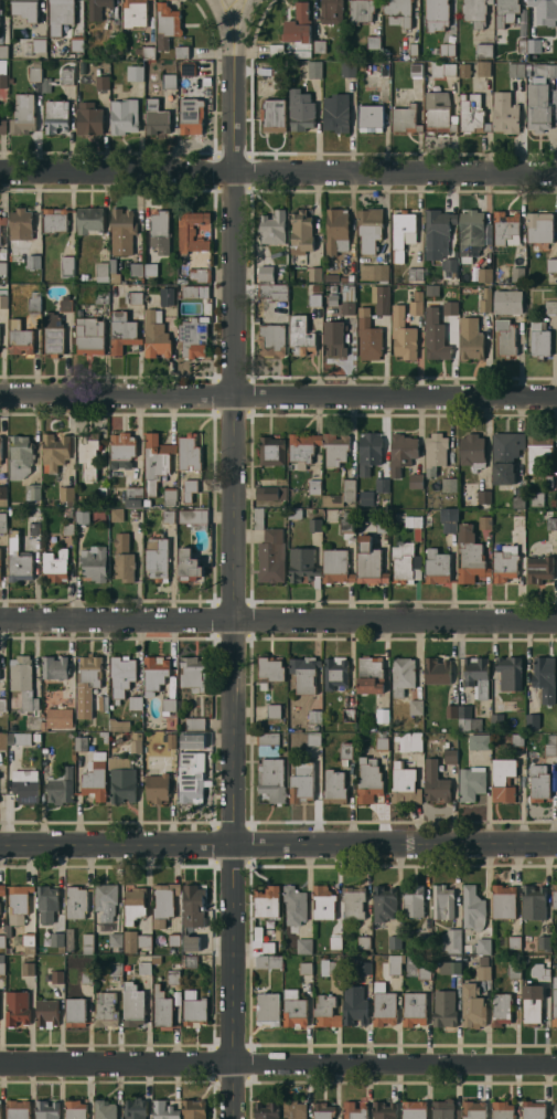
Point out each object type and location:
building: (97, 8)
building: (24, 9)
building: (360, 10)
building: (0, 11)
building: (331, 11)
building: (474, 11)
building: (545, 11)
building: (133, 12)
building: (397, 12)
building: (505, 12)
building: (436, 14)
building: (65, 22)
building: (165, 24)
road: (229, 25)
road: (237, 25)
building: (294, 34)
building: (114, 40)
building: (373, 42)
building: (39, 43)
building: (522, 45)
building: (534, 45)
building: (319, 46)
building: (447, 49)
building: (483, 50)
building: (3, 51)
building: (413, 51)
building: (148, 52)
building: (181, 52)
building: (384, 53)
building: (35, 62)
building: (186, 67)
building: (313, 68)
building: (347, 68)
building: (384, 68)
building: (441, 68)
building: (483, 68)
building: (545, 68)
building: (415, 70)
building: (463, 70)
building: (517, 70)
building: (135, 73)
building: (2, 74)
building: (34, 74)
building: (66, 75)
building: (169, 81)
building: (101, 82)
building: (46, 84)
building: (537, 107)
building: (300, 110)
building: (335, 113)
building: (438, 113)
building: (472, 114)
building: (22, 115)
building: (191, 115)
building: (272, 115)
building: (55, 116)
building: (124, 116)
building: (156, 117)
building: (369, 117)
building: (505, 117)
building: (88, 119)
building: (405, 119)
building: (2, 126)
road: (278, 167)
building: (54, 219)
building: (3, 220)
building: (88, 220)
building: (20, 223)
building: (159, 224)
building: (271, 228)
building: (368, 228)
building: (505, 228)
building: (538, 229)
building: (190, 230)
building: (122, 231)
building: (335, 231)
building: (0, 232)
building: (401, 232)
building: (437, 232)
building: (300, 233)
building: (470, 234)
building: (32, 261)
building: (551, 265)
building: (66, 266)
building: (449, 266)
building: (2, 267)
building: (136, 268)
building: (149, 268)
building: (101, 272)
building: (114, 272)
building: (374, 272)
building: (313, 273)
building: (199, 274)
building: (265, 274)
building: (415, 274)
building: (517, 274)
building: (483, 275)
building: (331, 277)
building: (315, 287)
building: (431, 289)
building: (194, 291)
building: (272, 292)
building: (100, 296)
building: (132, 297)
building: (516, 297)
building: (3, 298)
building: (331, 298)
building: (313, 299)
building: (382, 299)
building: (484, 299)
building: (347, 302)
building: (33, 303)
building: (416, 303)
building: (65, 304)
building: (169, 305)
building: (549, 306)
building: (205, 307)
building: (449, 307)
building: (121, 331)
building: (52, 334)
building: (154, 334)
building: (401, 334)
building: (89, 335)
building: (300, 335)
building: (435, 336)
building: (333, 337)
building: (505, 337)
building: (19, 338)
building: (193, 338)
building: (368, 338)
building: (470, 338)
building: (538, 338)
building: (270, 339)
road: (278, 395)
building: (0, 445)
building: (302, 446)
building: (335, 448)
building: (121, 450)
building: (54, 451)
building: (271, 451)
building: (368, 451)
building: (471, 451)
building: (537, 451)
building: (188, 452)
building: (400, 452)
building: (435, 452)
building: (87, 455)
building: (504, 455)
building: (19, 456)
building: (154, 462)
building: (415, 481)
building: (550, 481)
building: (448, 484)
building: (381, 485)
building: (313, 486)
building: (347, 487)
building: (188, 489)
building: (518, 489)
building: (32, 492)
building: (65, 493)
building: (101, 493)
building: (270, 493)
building: (290, 493)
building: (2, 495)
building: (131, 495)
building: (169, 496)
building: (483, 497)
building: (536, 498)
building: (517, 500)
building: (146, 502)
building: (294, 513)
building: (116, 515)
building: (167, 515)
building: (82, 517)
building: (193, 518)
building: (258, 518)
building: (2, 521)
building: (484, 522)
building: (313, 524)
building: (382, 524)
building: (416, 524)
building: (448, 524)
building: (551, 524)
building: (346, 526)
building: (33, 528)
building: (67, 528)
building: (270, 556)
building: (469, 556)
building: (122, 558)
building: (17, 559)
building: (157, 559)
building: (93, 562)
building: (368, 562)
building: (405, 563)
building: (505, 564)
building: (54, 566)
building: (188, 566)
building: (303, 567)
building: (335, 567)
building: (436, 567)
building: (538, 569)
road: (233, 585)
road: (278, 620)
building: (54, 667)
building: (89, 671)
building: (268, 671)
building: (436, 671)
building: (154, 672)
building: (334, 672)
building: (508, 672)
building: (303, 673)
building: (121, 674)
building: (191, 674)
building: (369, 675)
building: (401, 675)
building: (475, 675)
building: (544, 677)
building: (22, 679)
building: (68, 701)
building: (103, 703)
building: (135, 703)
building: (2, 704)
building: (168, 707)
building: (415, 707)
building: (272, 710)
building: (450, 711)
building: (347, 715)
building: (314, 716)
building: (58, 717)
building: (463, 717)
building: (496, 720)
building: (532, 722)
building: (194, 724)
building: (474, 724)
building: (118, 725)
building: (104, 736)
building: (19, 738)
building: (312, 738)
building: (169, 739)
building: (2, 740)
building: (192, 740)
building: (516, 740)
building: (408, 741)
building: (478, 741)
building: (79, 742)
building: (136, 742)
building: (381, 742)
building: (267, 743)
building: (549, 745)
building: (43, 751)
building: (345, 752)
building: (449, 756)
building: (95, 777)
building: (188, 778)
building: (503, 779)
building: (120, 780)
building: (271, 780)
building: (300, 782)
building: (368, 782)
building: (435, 782)
building: (470, 782)
building: (538, 782)
building: (404, 784)
building: (60, 785)
building: (157, 787)
building: (25, 788)
building: (333, 788)
road: (278, 849)
building: (2, 889)
building: (554, 896)
building: (106, 900)
building: (75, 901)
building: (266, 901)
building: (353, 901)
building: (413, 901)
building: (503, 901)
building: (46, 902)
building: (163, 902)
building: (322, 902)
building: (383, 902)
building: (441, 902)
building: (533, 902)
building: (17, 904)
building: (133, 904)
building: (192, 906)
building: (293, 907)
building: (472, 908)
building: (67, 932)
building: (257, 932)
building: (56, 939)
building: (114, 939)
building: (173, 939)
building: (1, 940)
building: (28, 940)
building: (143, 940)
building: (422, 940)
building: (129, 941)
building: (393, 941)
building: (451, 941)
building: (513, 941)
building: (190, 942)
building: (334, 942)
building: (362, 942)
building: (543, 942)
building: (86, 943)
building: (303, 946)
building: (481, 946)
building: (68, 947)
building: (269, 947)
building: (154, 959)
building: (500, 960)
building: (189, 961)
building: (267, 961)
building: (1, 963)
building: (394, 963)
building: (418, 965)
building: (332, 967)
building: (115, 968)
building: (143, 968)
building: (304, 968)
building: (363, 968)
building: (449, 968)
building: (482, 968)
building: (26, 969)
building: (513, 969)
building: (539, 971)
building: (56, 977)
building: (86, 977)
building: (172, 977)
building: (554, 1000)
building: (531, 1004)
building: (132, 1005)
building: (383, 1005)
building: (472, 1006)
building: (15, 1007)
building: (105, 1009)
building: (161, 1009)
building: (193, 1009)
building: (267, 1009)
building: (293, 1009)
building: (414, 1009)
building: (443, 1009)
building: (500, 1009)
building: (354, 1011)
building: (74, 1012)
building: (325, 1012)
building: (46, 1013)
road: (278, 1066)
building: (135, 1108)
building: (17, 1109)
building: (74, 1109)
building: (104, 1109)
building: (193, 1109)
building: (293, 1109)
building: (413, 1109)
building: (473, 1109)
building: (46, 1110)
building: (163, 1110)
building: (266, 1110)
building: (322, 1110)
building: (353, 1110)
building: (384, 1110)
building: (444, 1110)
building: (502, 1110)
building: (534, 1110)
building: (556, 1111)

